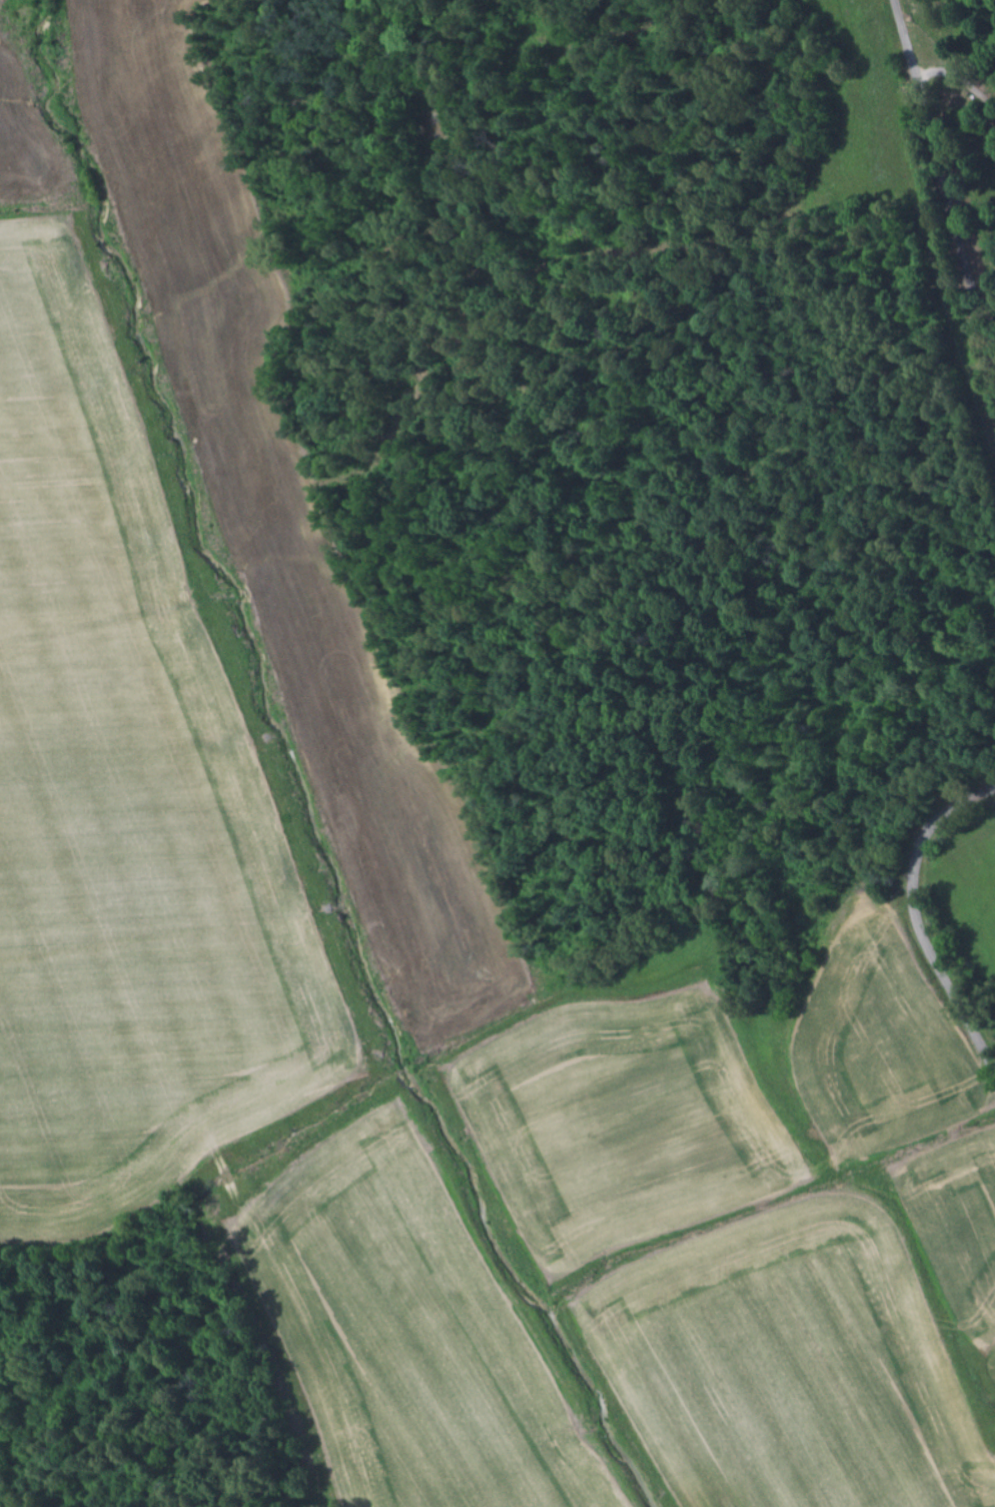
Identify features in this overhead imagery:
road: (476, 38)
road: (959, 79)
road: (943, 177)
road: (920, 920)

